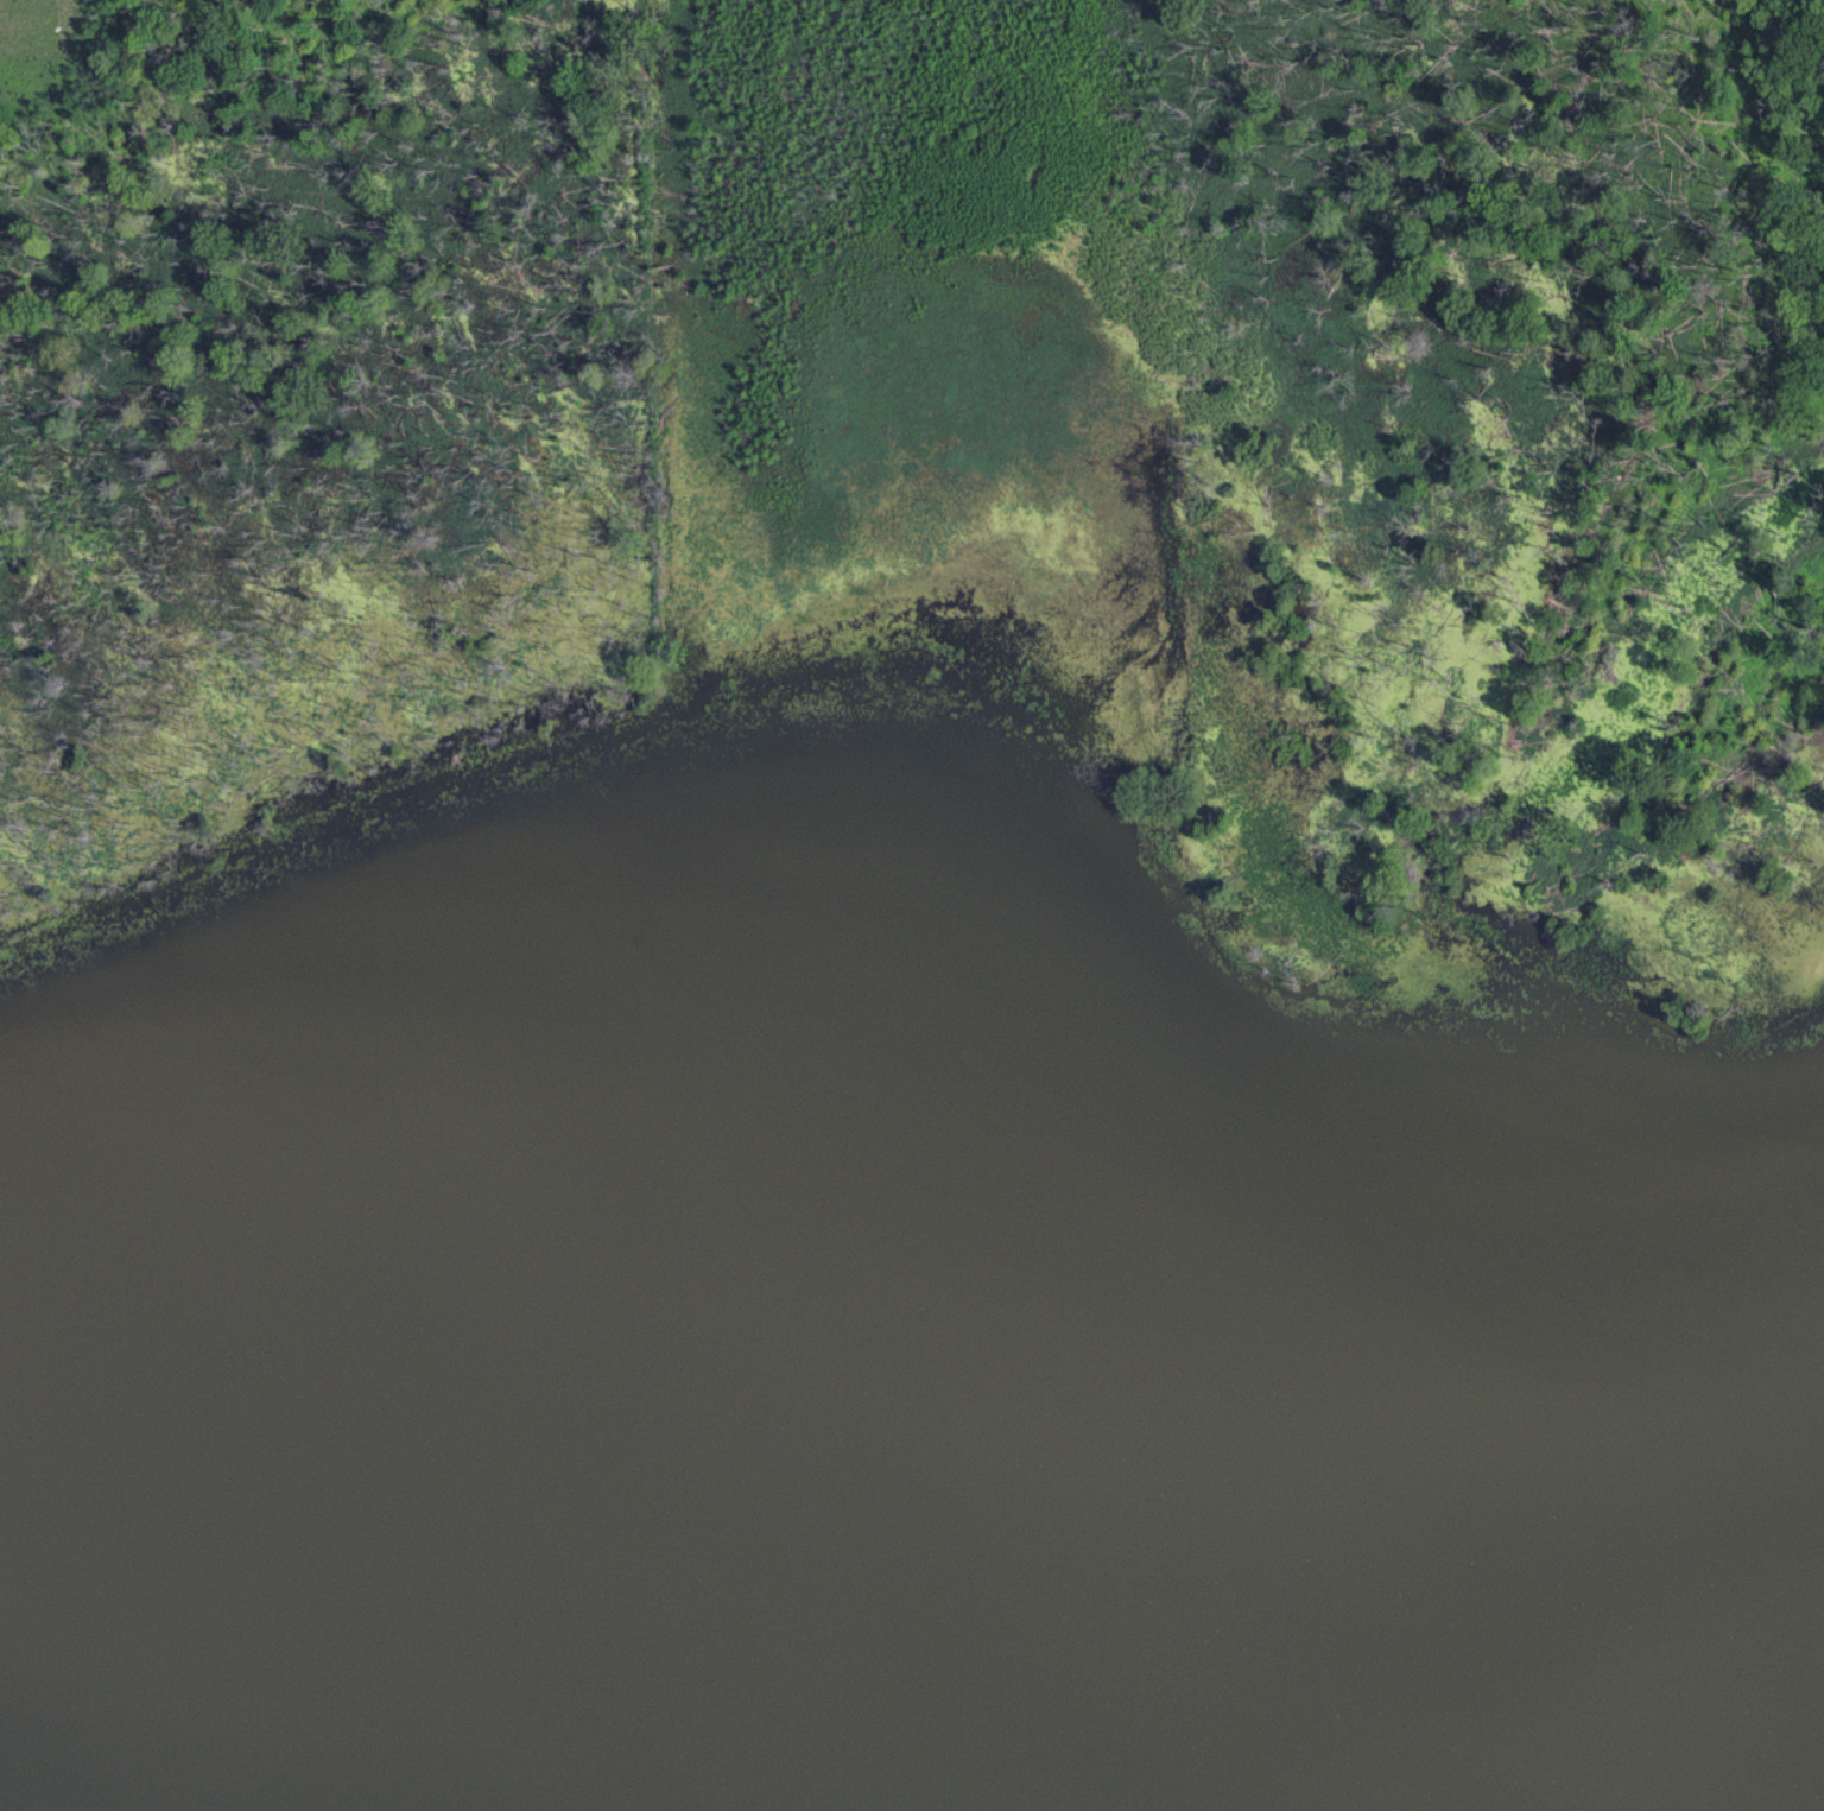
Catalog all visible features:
river: (905, 1534)

